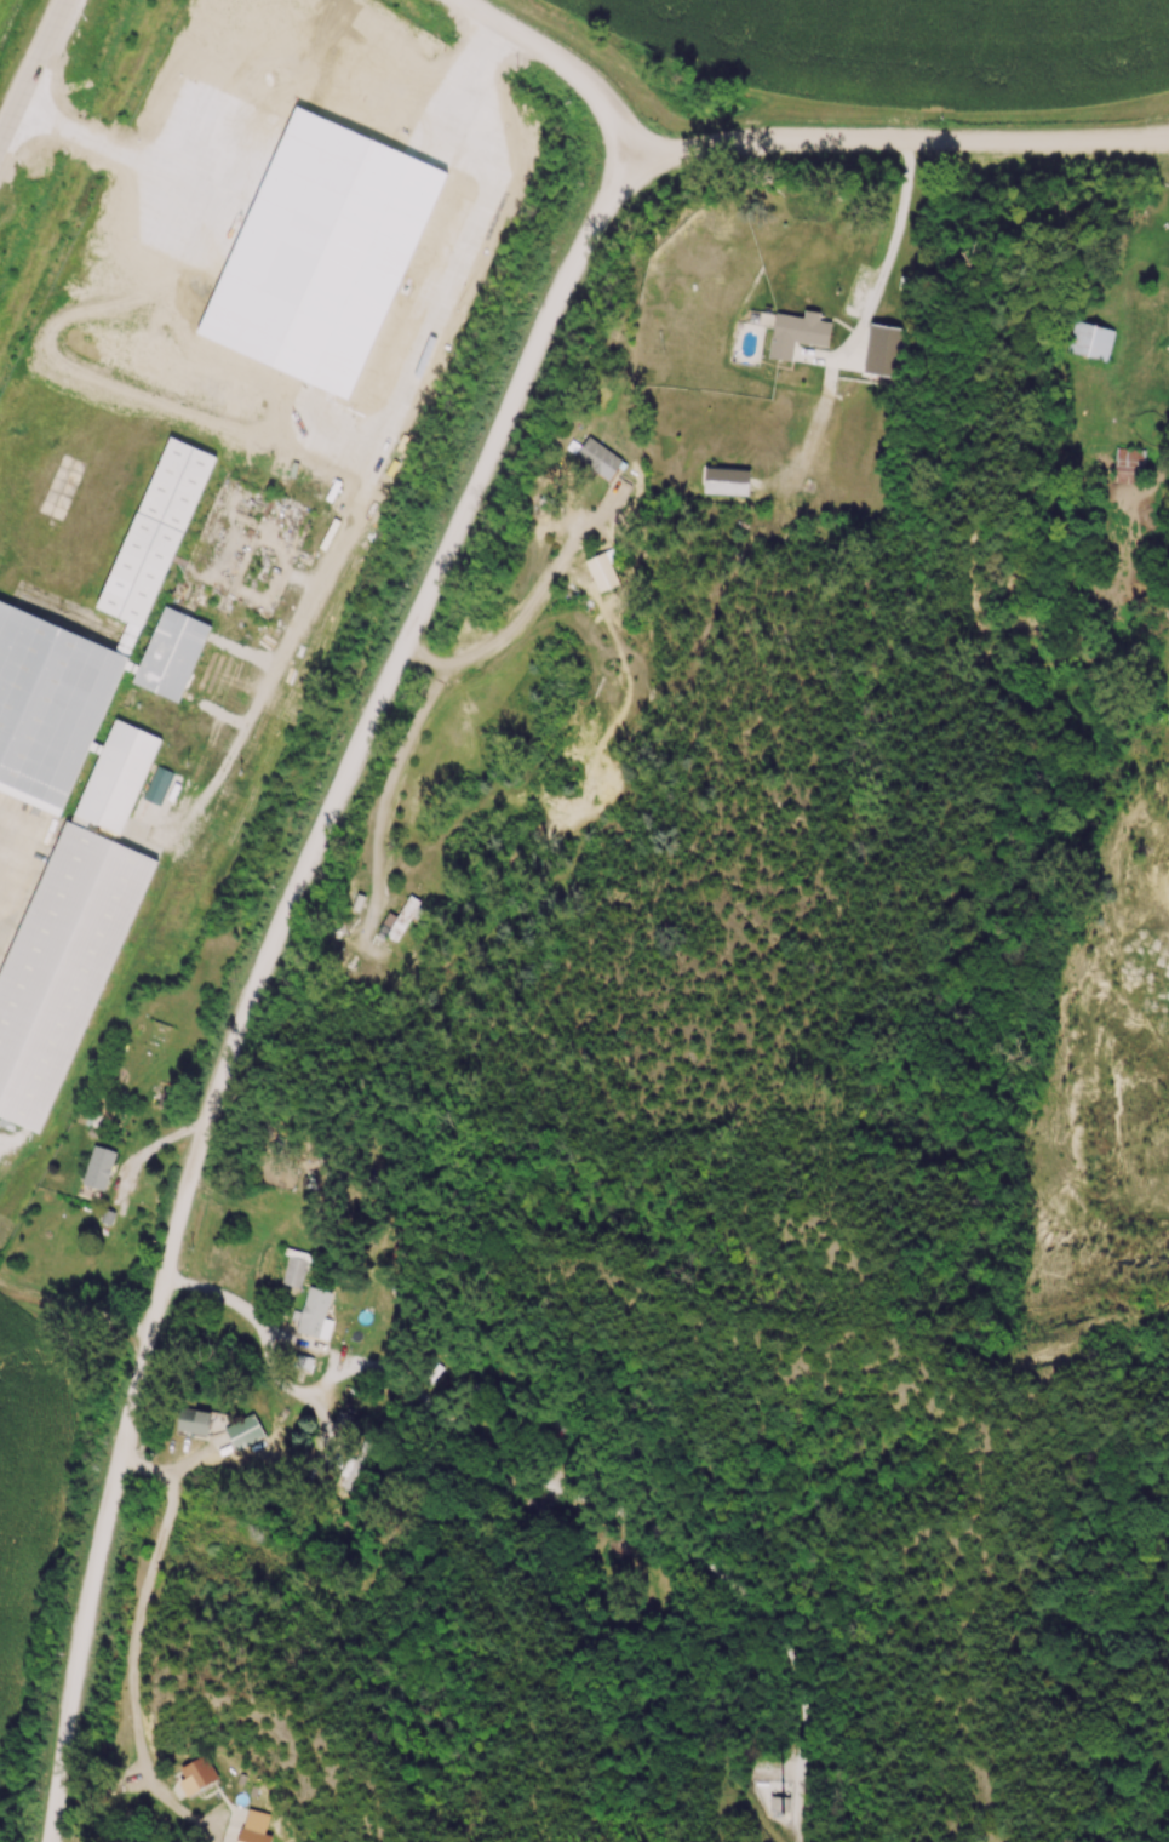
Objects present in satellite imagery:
road: (31, 68)
road: (561, 69)
road: (1033, 139)
road: (761, 141)
road: (127, 144)
road: (889, 224)
building: (836, 307)
building: (1093, 342)
building: (902, 343)
building: (797, 370)
road: (390, 428)
building: (601, 460)
building: (1131, 467)
building: (603, 574)
road: (518, 619)
building: (99, 650)
road: (389, 789)
road: (5, 823)
building: (400, 921)
building: (74, 931)
road: (253, 976)
building: (101, 1169)
building: (297, 1269)
road: (227, 1305)
road: (71, 1309)
building: (316, 1314)
building: (196, 1421)
building: (246, 1434)
building: (355, 1468)
road: (128, 1643)
building: (197, 1777)
building: (254, 1837)

